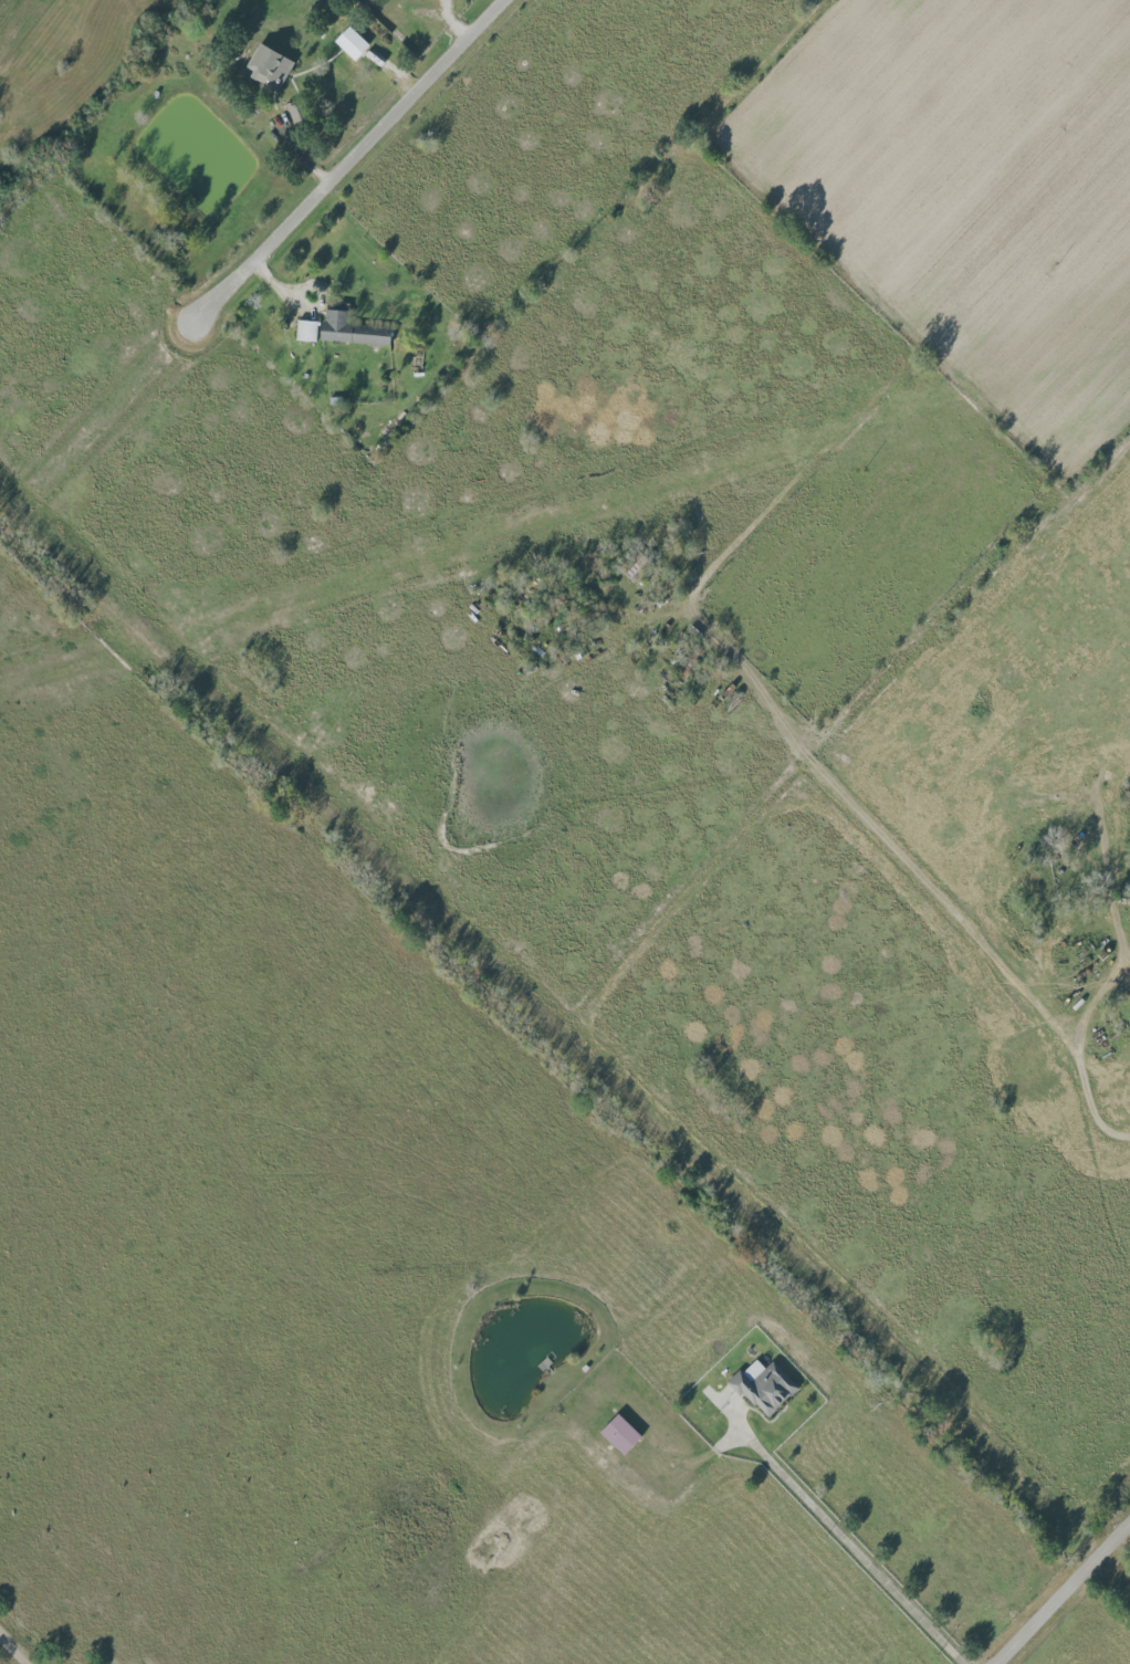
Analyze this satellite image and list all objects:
building: (350, 43)
building: (268, 66)
building: (294, 112)
road: (350, 165)
road: (845, 285)
building: (350, 329)
building: (305, 331)
road: (1096, 447)
road: (903, 857)
building: (763, 1385)
building: (619, 1433)
road: (838, 1534)
road: (1064, 1593)

